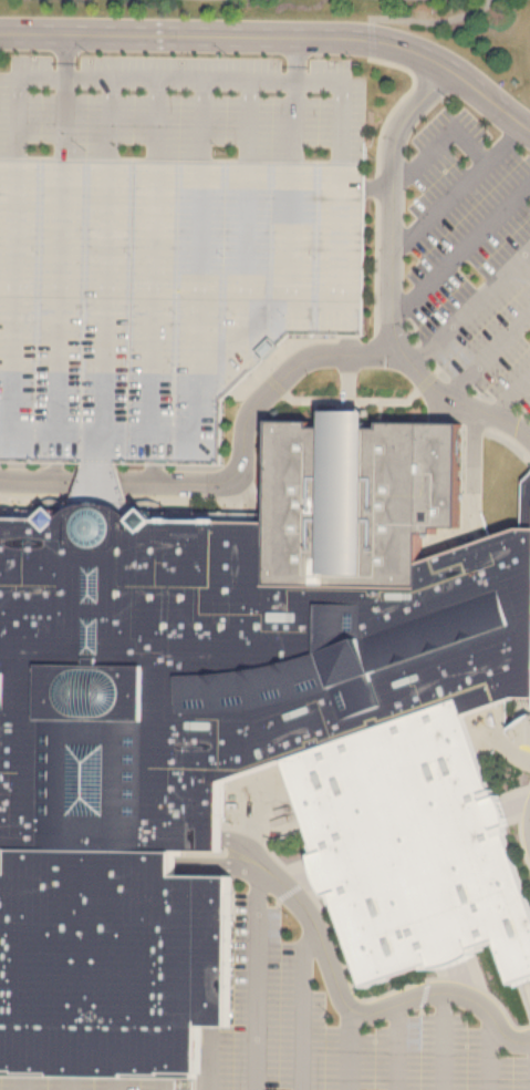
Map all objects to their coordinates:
road: (432, 20)
road: (278, 35)
road: (66, 55)
road: (297, 59)
road: (180, 80)
road: (65, 120)
road: (111, 120)
road: (157, 121)
road: (204, 121)
road: (249, 122)
road: (295, 122)
road: (440, 140)
road: (376, 165)
road: (458, 186)
road: (294, 233)
parking lot: (167, 241)
road: (248, 248)
road: (461, 248)
parking lot: (470, 259)
road: (201, 270)
road: (391, 278)
road: (62, 295)
road: (108, 295)
road: (155, 296)
building: (160, 296)
parking garage: (160, 296)
road: (470, 304)
road: (487, 351)
road: (445, 360)
road: (347, 381)
road: (511, 394)
road: (364, 399)
building: (346, 418)
road: (346, 418)
road: (154, 430)
road: (8, 432)
road: (503, 435)
road: (100, 445)
road: (235, 467)
road: (100, 481)
road: (117, 493)
road: (100, 498)
building: (358, 498)
road: (471, 500)
building: (526, 502)
road: (189, 503)
road: (34, 506)
road: (243, 507)
road: (165, 510)
road: (111, 511)
building: (216, 666)
road: (528, 719)
road: (529, 744)
road: (516, 749)
road: (517, 804)
road: (112, 821)
road: (523, 823)
road: (112, 832)
road: (248, 844)
building: (415, 845)
road: (6, 857)
road: (94, 858)
road: (220, 861)
road: (211, 867)
road: (281, 895)
road: (105, 898)
road: (104, 946)
road: (209, 950)
building: (111, 963)
road: (458, 971)
parking lot: (114, 975)
road: (256, 977)
road: (350, 981)
road: (523, 1000)
road: (301, 1008)
road: (422, 1010)
road: (24, 1011)
road: (366, 1011)
road: (71, 1012)
road: (117, 1012)
road: (164, 1012)
parking lot: (330, 1029)
road: (443, 1040)
road: (396, 1046)
road: (349, 1049)
road: (488, 1056)
road: (208, 1058)
road: (22, 1083)
road: (69, 1084)
road: (115, 1084)
road: (162, 1084)

